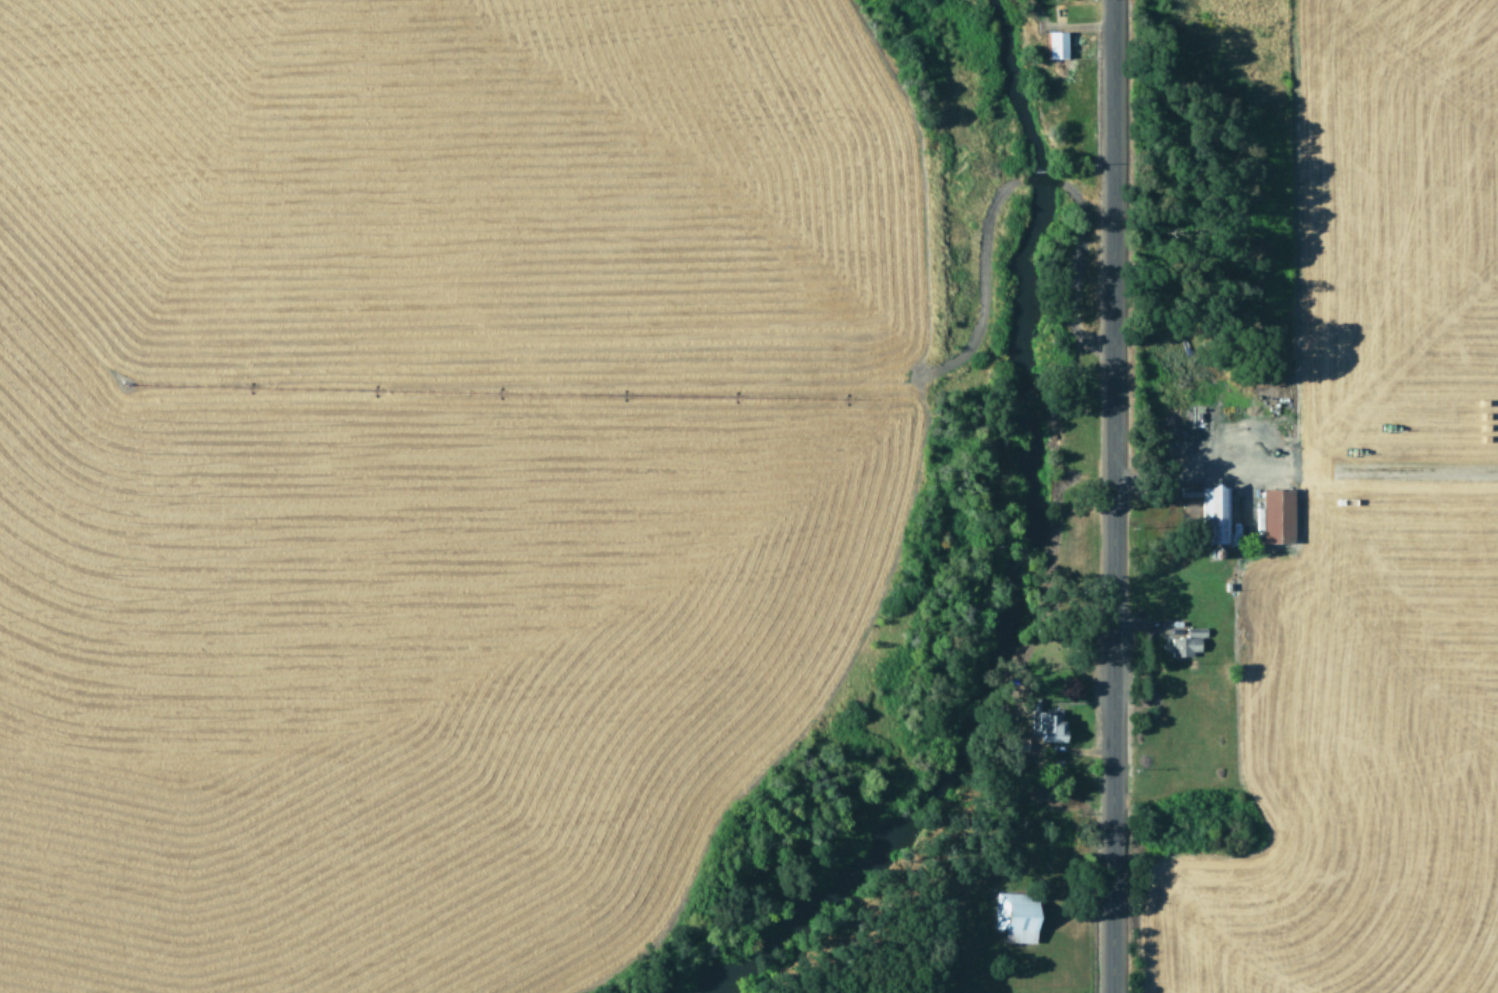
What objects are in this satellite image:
building: (1054, 45)
crop: (425, 467)
road: (1104, 496)
building: (1210, 513)
building: (1275, 515)
building: (1185, 642)
building: (1041, 723)
building: (1013, 917)

